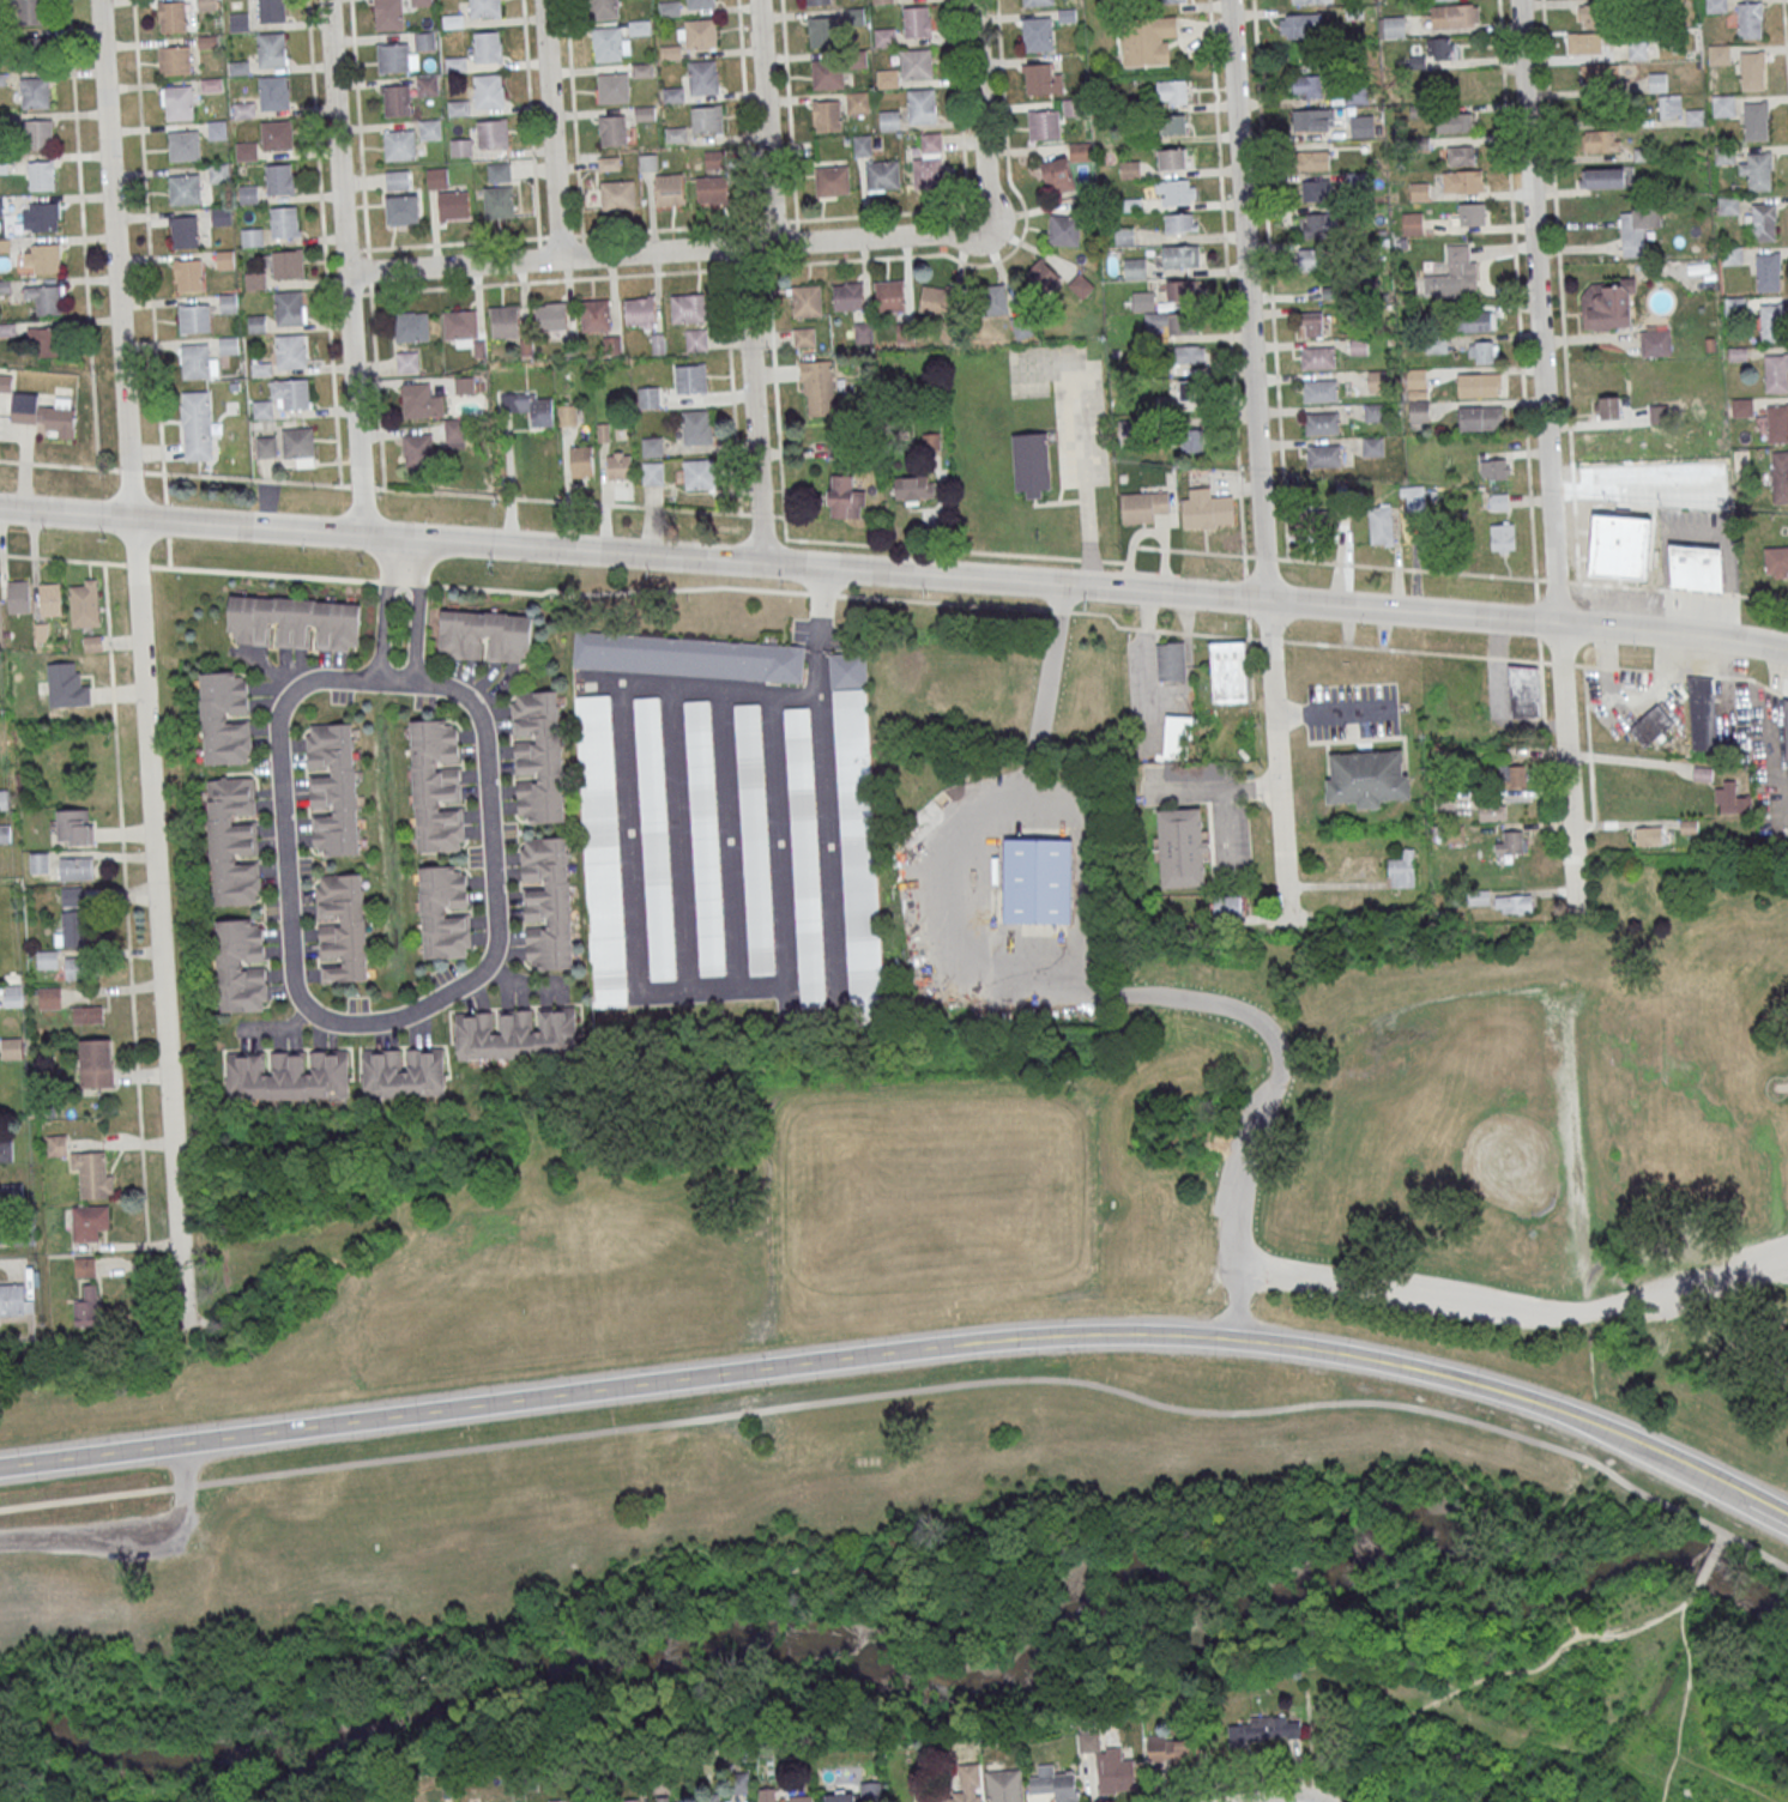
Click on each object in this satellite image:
building: (1172, 1)
building: (1311, 1)
building: (421, 2)
building: (817, 2)
building: (1037, 2)
building: (701, 4)
building: (1716, 5)
building: (485, 8)
building: (606, 8)
building: (271, 10)
building: (29, 11)
building: (389, 14)
building: (1591, 14)
building: (171, 16)
building: (1454, 16)
building: (1750, 19)
building: (918, 22)
building: (1299, 25)
building: (1391, 26)
building: (824, 31)
building: (1038, 34)
road: (1786, 34)
building: (884, 37)
building: (1147, 40)
building: (424, 41)
building: (1584, 42)
building: (610, 44)
building: (489, 47)
building: (270, 49)
building: (1637, 49)
building: (1436, 50)
building: (1718, 54)
building: (397, 58)
building: (174, 59)
building: (1306, 59)
building: (917, 64)
building: (1752, 68)
building: (827, 73)
building: (1599, 73)
building: (703, 77)
building: (887, 78)
building: (1041, 78)
building: (1657, 81)
building: (427, 85)
building: (1306, 86)
building: (612, 87)
building: (489, 90)
building: (1172, 91)
building: (35, 92)
building: (272, 92)
building: (1358, 95)
building: (395, 99)
building: (177, 102)
building: (858, 102)
building: (922, 105)
building: (1723, 105)
building: (1669, 107)
building: (459, 108)
road: (959, 108)
road: (979, 111)
road: (789, 113)
road: (745, 115)
building: (829, 115)
building: (707, 120)
building: (890, 120)
building: (1313, 120)
building: (1756, 120)
road: (573, 121)
road: (530, 122)
road: (766, 122)
building: (1455, 122)
building: (1044, 123)
building: (1176, 123)
building: (1361, 126)
building: (430, 128)
road: (551, 128)
building: (219, 129)
building: (614, 129)
building: (38, 133)
building: (276, 133)
building: (493, 133)
building: (1601, 140)
building: (930, 141)
building: (400, 144)
building: (862, 144)
building: (183, 145)
building: (460, 146)
building: (1080, 151)
building: (1461, 155)
building: (1172, 158)
building: (1312, 159)
building: (1130, 169)
building: (499, 171)
building: (1759, 171)
building: (218, 173)
building: (928, 173)
building: (41, 175)
building: (882, 175)
building: (1057, 176)
building: (437, 177)
building: (1609, 177)
building: (279, 179)
building: (398, 180)
building: (832, 180)
building: (1462, 181)
building: (185, 189)
building: (670, 189)
building: (713, 189)
building: (1315, 189)
building: (1176, 192)
building: (1419, 192)
building: (618, 194)
building: (499, 201)
building: (1728, 205)
building: (454, 206)
road: (981, 206)
building: (404, 210)
road: (880, 212)
building: (1472, 213)
building: (41, 216)
building: (225, 216)
road: (773, 219)
building: (283, 222)
building: (1764, 222)
building: (1180, 223)
building: (1412, 223)
road: (967, 224)
building: (1319, 225)
road: (666, 228)
building: (1637, 229)
building: (1064, 230)
building: (183, 231)
road: (84, 232)
road: (558, 234)
building: (1124, 235)
road: (874, 236)
road: (781, 241)
road: (322, 242)
road: (367, 243)
road: (452, 243)
road: (737, 244)
road: (756, 244)
road: (350, 249)
road: (582, 249)
road: (1010, 250)
road: (147, 252)
road: (539, 253)
building: (1180, 255)
building: (1732, 255)
building: (42, 258)
road: (548, 260)
building: (1317, 260)
building: (286, 264)
road: (744, 266)
road: (344, 267)
building: (1135, 267)
building: (1455, 271)
building: (1768, 272)
building: (188, 274)
building: (1040, 276)
road: (1226, 277)
road: (1270, 278)
road: (539, 279)
building: (255, 280)
road: (1560, 290)
building: (1180, 291)
building: (848, 296)
building: (890, 296)
building: (46, 298)
building: (936, 300)
building: (995, 300)
building: (807, 301)
building: (1143, 301)
building: (229, 302)
building: (1608, 306)
building: (288, 307)
building: (688, 308)
building: (640, 312)
building: (596, 314)
building: (551, 316)
building: (194, 318)
building: (505, 320)
building: (1479, 320)
building: (256, 323)
building: (460, 323)
building: (1171, 323)
building: (1311, 323)
building: (1772, 323)
building: (411, 326)
road: (1518, 331)
building: (863, 332)
building: (804, 335)
building: (696, 339)
building: (43, 341)
building: (1655, 343)
building: (229, 345)
building: (289, 350)
building: (1484, 351)
building: (1190, 353)
building: (1317, 357)
building: (198, 361)
building: (407, 362)
building: (261, 368)
building: (1776, 373)
building: (691, 379)
building: (5, 382)
building: (1416, 382)
building: (1479, 383)
building: (464, 385)
road: (731, 385)
building: (819, 388)
building: (1192, 391)
building: (1319, 391)
building: (284, 397)
building: (648, 397)
building: (421, 401)
road: (753, 403)
building: (530, 406)
building: (1609, 407)
building: (1742, 407)
building: (1419, 411)
building: (1375, 412)
building: (46, 413)
building: (568, 415)
building: (1480, 417)
building: (1322, 423)
building: (1777, 423)
building: (197, 425)
building: (697, 427)
building: (454, 433)
building: (1195, 435)
building: (300, 445)
building: (266, 446)
building: (652, 446)
building: (1372, 446)
building: (418, 450)
building: (1324, 455)
road: (1548, 458)
building: (582, 461)
road: (1257, 461)
road: (58, 464)
building: (1031, 464)
building: (620, 465)
building: (1494, 468)
road: (129, 471)
building: (652, 473)
building: (699, 473)
road: (1085, 474)
road: (246, 477)
building: (1780, 484)
road: (362, 485)
building: (913, 488)
road: (1630, 488)
building: (845, 495)
building: (1412, 497)
road: (578, 501)
building: (1144, 506)
building: (1206, 509)
road: (66, 512)
road: (165, 518)
road: (247, 525)
building: (1381, 525)
building: (1502, 537)
road: (481, 543)
road: (886, 544)
road: (168, 551)
building: (1611, 551)
road: (682, 556)
road: (1266, 556)
building: (1775, 558)
road: (1244, 564)
road: (797, 566)
building: (1696, 567)
road: (947, 576)
road: (1533, 578)
road: (1165, 591)
road: (1246, 594)
building: (18, 595)
road: (898, 598)
building: (50, 599)
building: (84, 603)
road: (383, 607)
road: (417, 610)
road: (1412, 611)
building: (295, 622)
road: (1673, 634)
building: (485, 635)
building: (689, 657)
road: (1250, 657)
road: (141, 661)
building: (1171, 661)
building: (1228, 671)
building: (66, 685)
building: (1524, 690)
road: (779, 691)
road: (1632, 697)
parking lot: (1351, 708)
road: (1335, 712)
building: (225, 716)
building: (1703, 720)
building: (1786, 721)
building: (1651, 726)
building: (1179, 737)
building: (539, 756)
road: (1624, 758)
building: (1194, 773)
building: (1512, 775)
building: (1367, 776)
building: (436, 785)
building: (333, 788)
road: (1184, 790)
building: (1729, 798)
building: (4, 799)
road: (1221, 800)
building: (1492, 811)
building: (75, 827)
building: (858, 832)
building: (5, 834)
building: (1648, 836)
building: (654, 837)
building: (706, 837)
building: (756, 839)
building: (232, 841)
building: (1511, 841)
building: (1183, 848)
building: (602, 849)
building: (805, 857)
building: (38, 863)
building: (75, 867)
building: (1402, 870)
building: (1040, 882)
building: (72, 896)
building: (1478, 897)
building: (546, 902)
building: (1514, 903)
building: (1228, 906)
building: (445, 912)
building: (342, 927)
building: (73, 929)
road: (128, 939)
road: (1304, 963)
building: (241, 966)
building: (78, 968)
building: (12, 994)
road: (1071, 994)
building: (49, 996)
building: (87, 1014)
road: (322, 1016)
road: (1268, 1018)
building: (517, 1033)
building: (12, 1047)
building: (96, 1063)
building: (403, 1072)
building: (289, 1075)
park: (1275, 1086)
park: (1470, 1111)
building: (55, 1144)
building: (6, 1150)
parking lot: (1242, 1160)
building: (92, 1173)
park: (937, 1190)
building: (89, 1221)
parking lot: (1708, 1281)
building: (14, 1299)
building: (87, 1306)
road: (1514, 1311)
road: (999, 1338)
road: (911, 1391)
road: (91, 1456)
park: (857, 1495)
road: (127, 1538)
parking lot: (105, 1540)
road: (1708, 1562)
road: (814, 1568)
park: (108, 1657)
river: (979, 1673)
road: (1497, 1675)
road: (1683, 1704)
building: (1267, 1730)
road: (1309, 1730)
building: (1087, 1743)
building: (1176, 1750)
road: (1711, 1759)
building: (1117, 1772)
road: (1232, 1782)
building: (741, 1783)
building: (968, 1784)
building: (1056, 1784)
building: (1005, 1786)
building: (871, 1791)
building: (781, 1796)
building: (841, 1796)
building: (653, 1800)
building: (717, 1800)
road: (1298, 1800)
building: (556, 1801)

